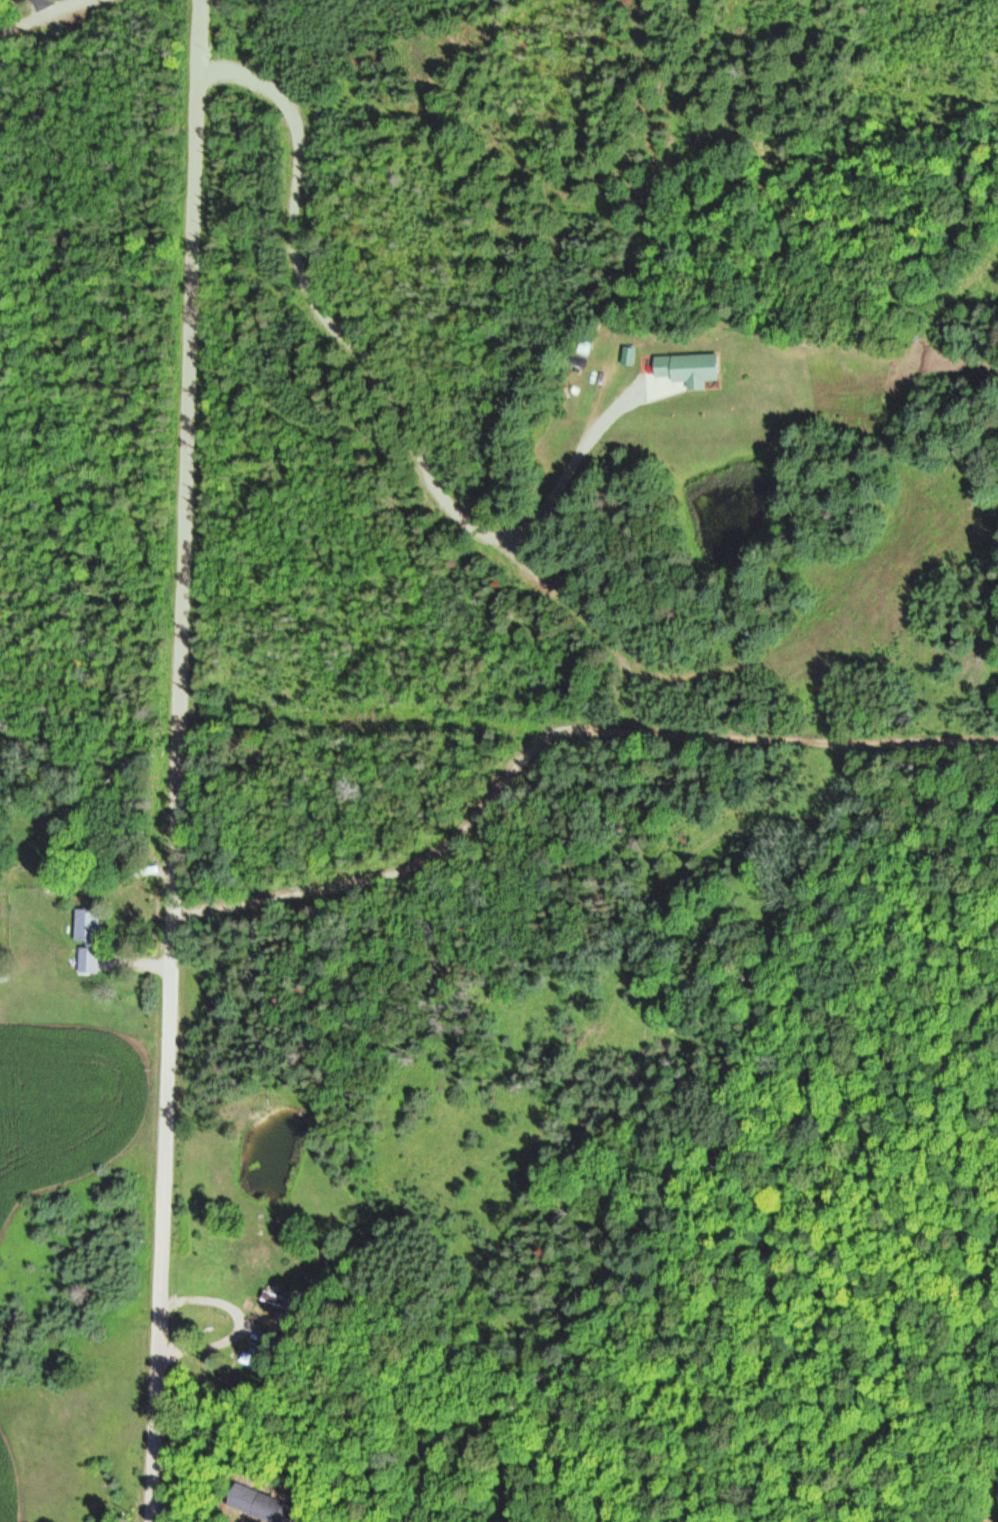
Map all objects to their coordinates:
road: (47, 4)
road: (44, 14)
road: (373, 394)
road: (591, 627)
road: (552, 735)
road: (176, 761)
road: (148, 965)
road: (234, 1324)

